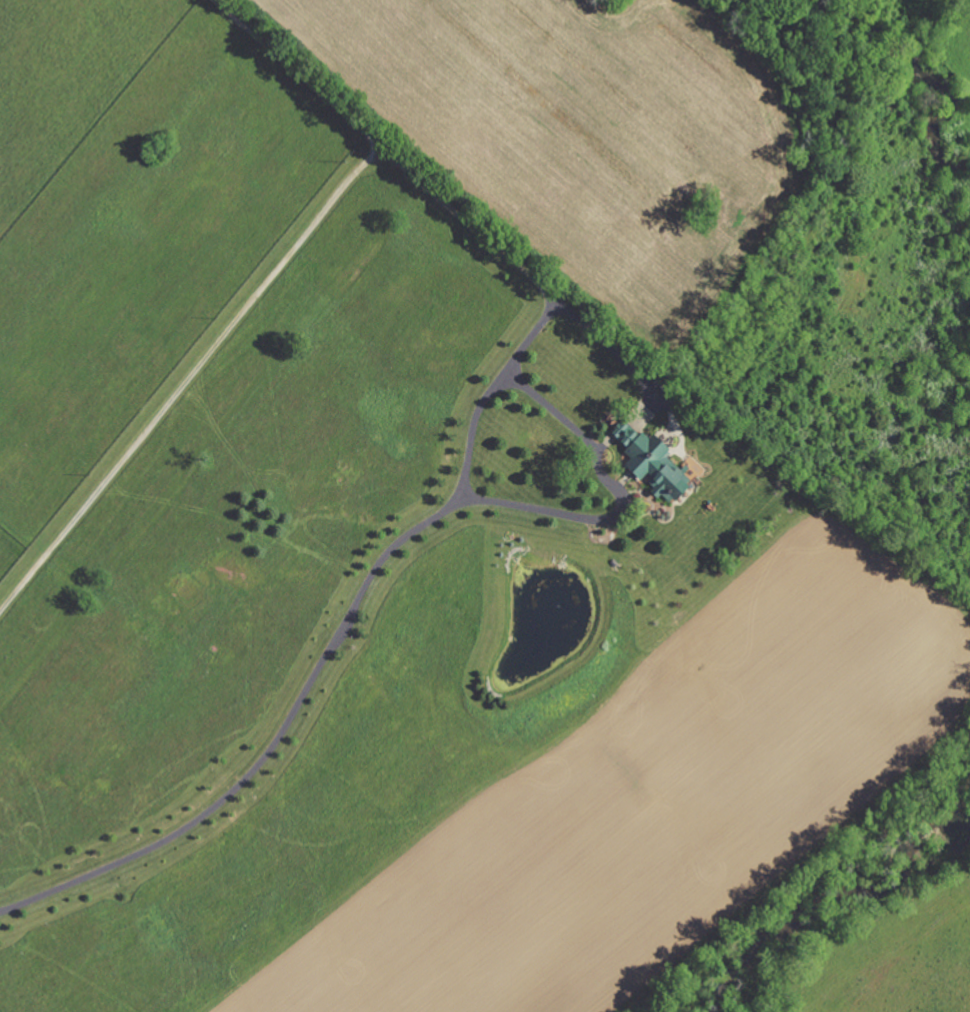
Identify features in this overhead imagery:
road: (256, 292)
road: (555, 295)
building: (649, 455)
road: (328, 650)

